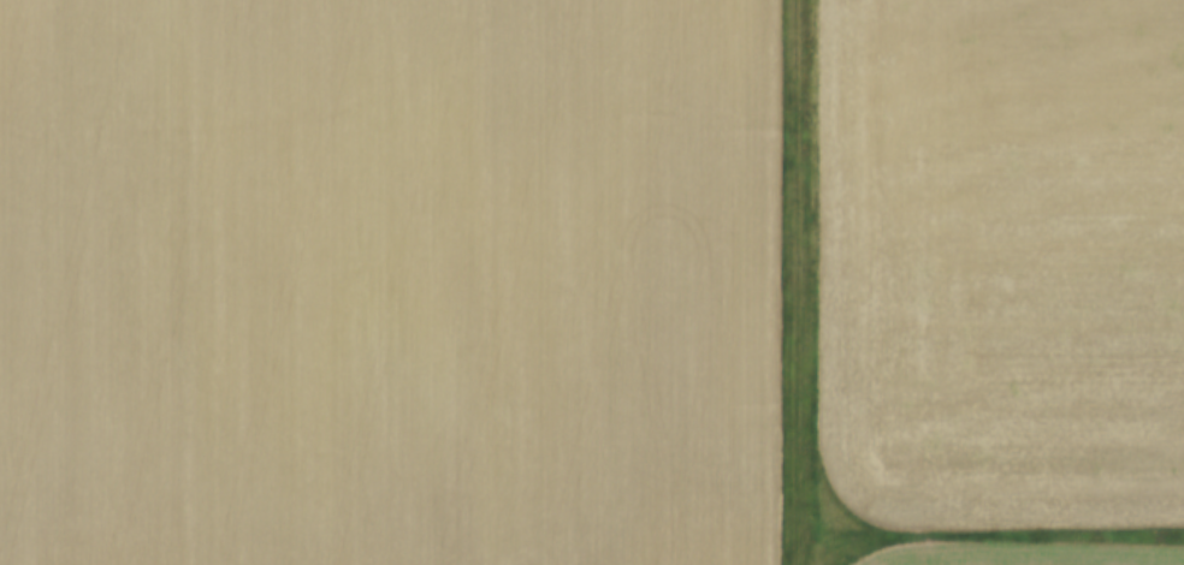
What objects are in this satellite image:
road: (793, 282)

